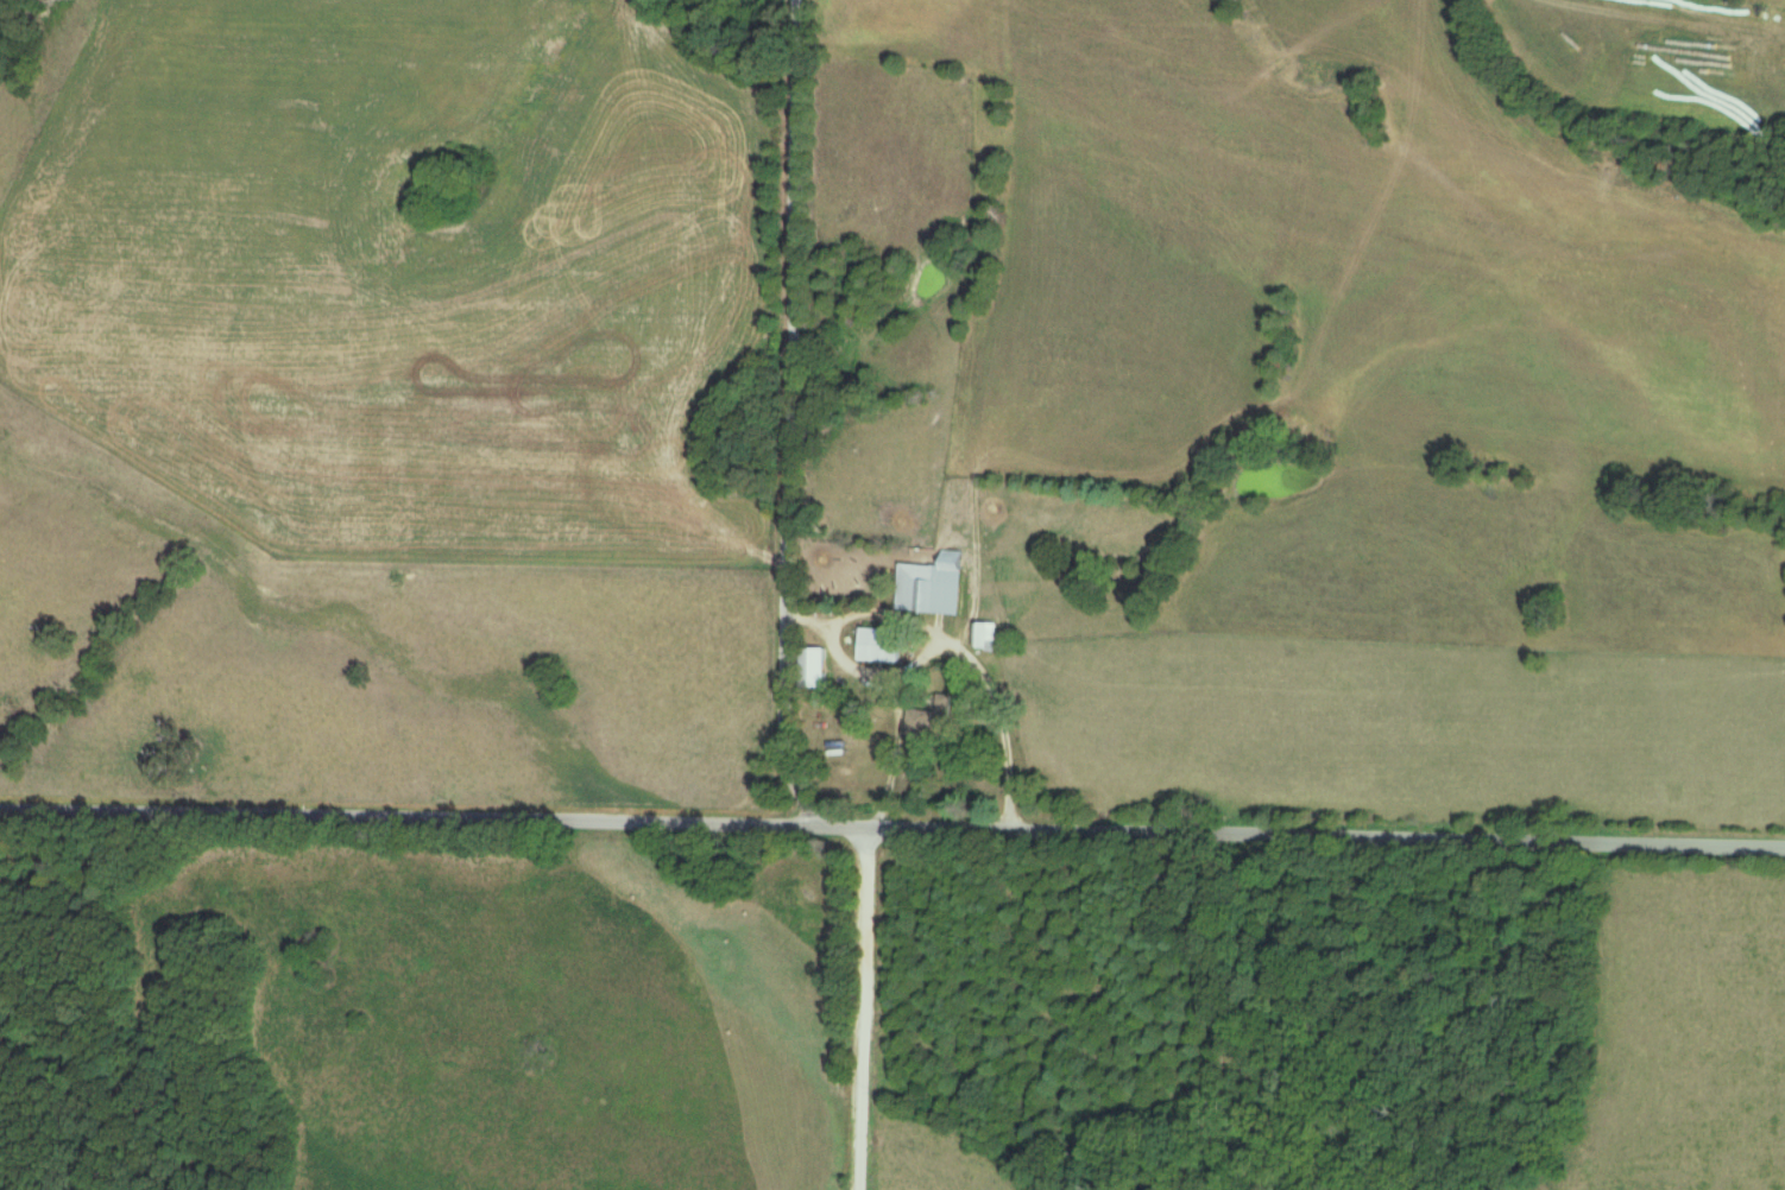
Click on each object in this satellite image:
road: (786, 409)
building: (934, 584)
building: (986, 634)
road: (947, 635)
building: (882, 644)
building: (815, 666)
building: (932, 720)
road: (892, 819)
road: (860, 1005)

